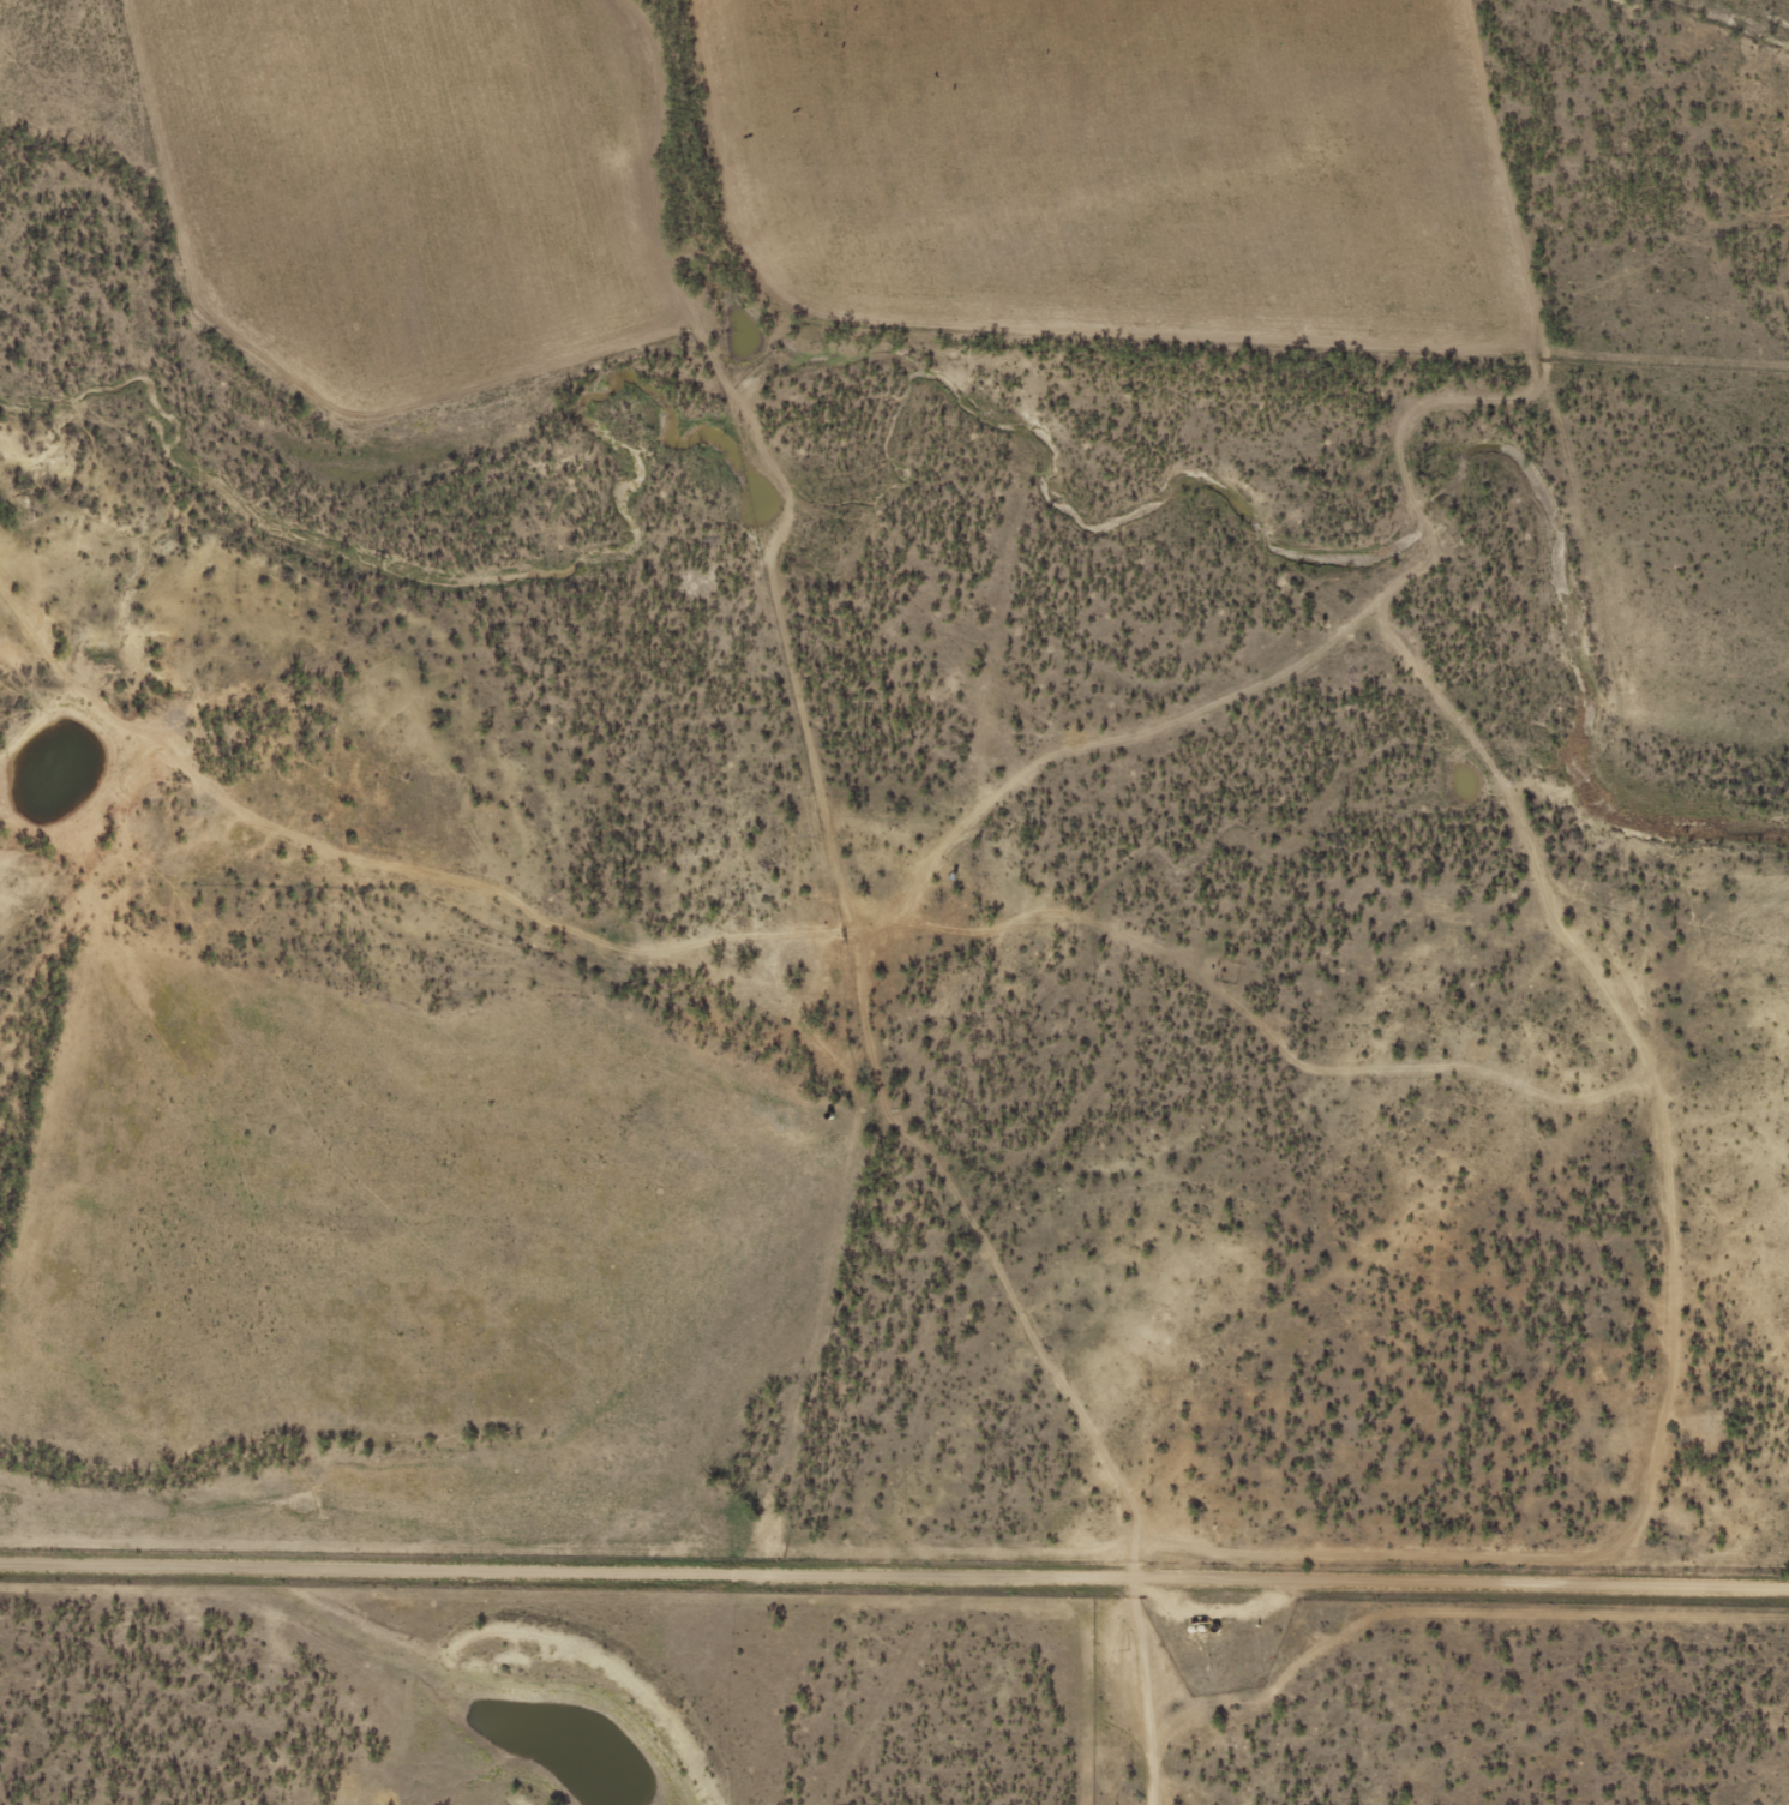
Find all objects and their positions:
road: (894, 1583)
road: (1139, 1695)

